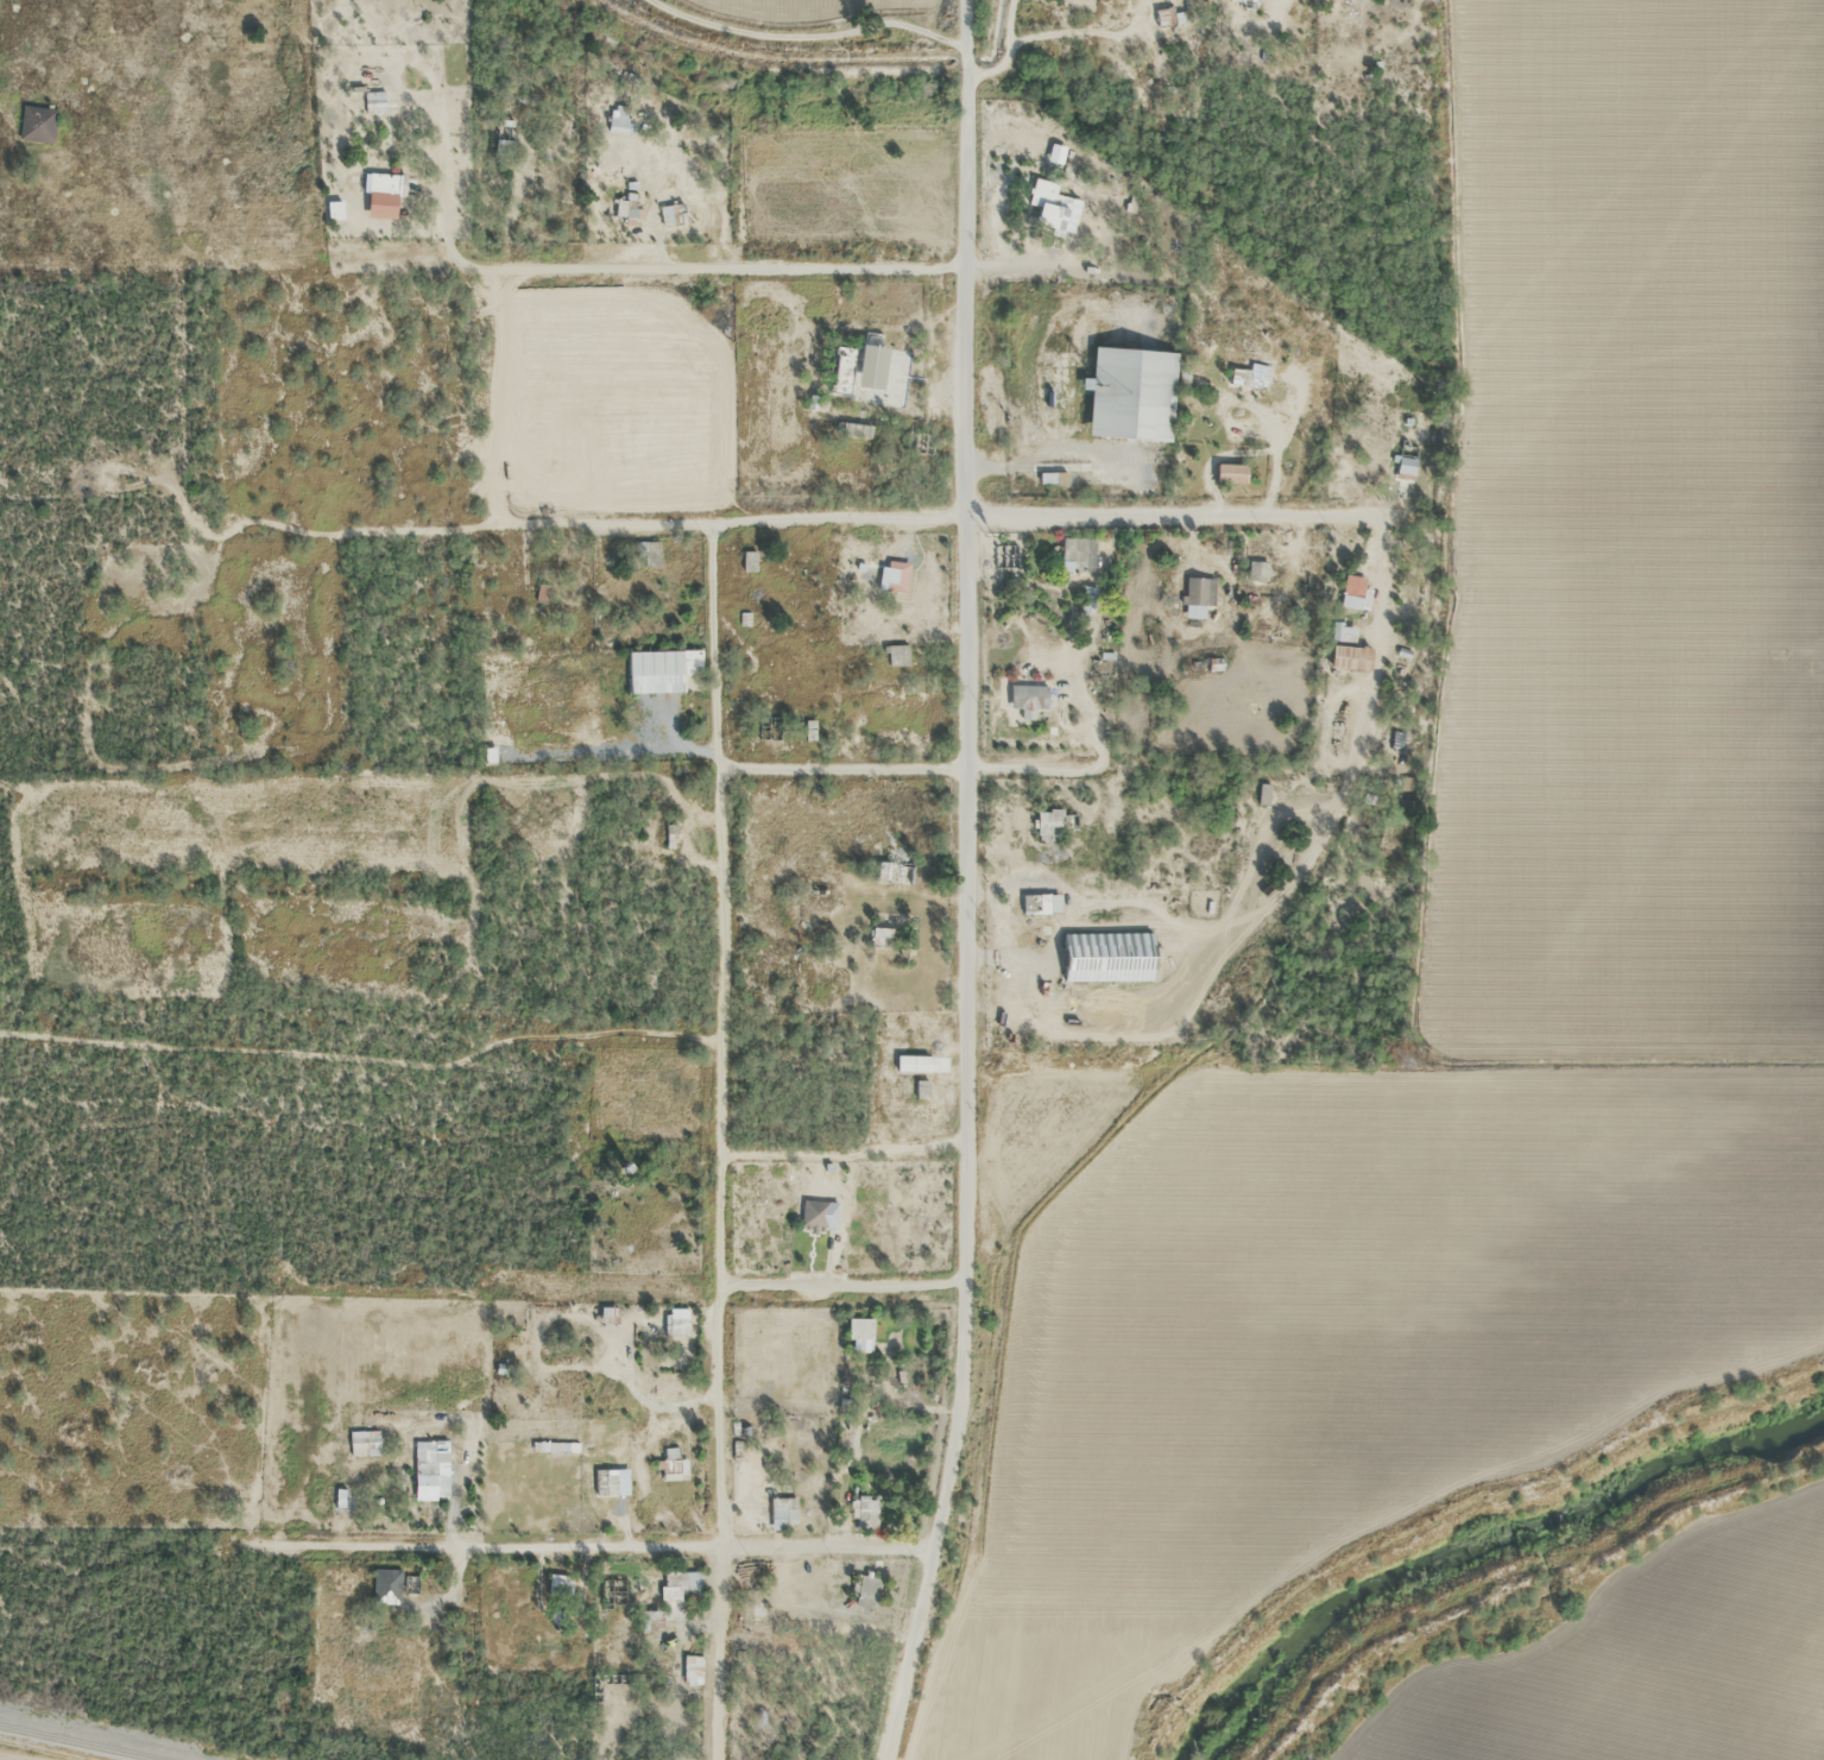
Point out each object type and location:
railway: (81, 1742)

